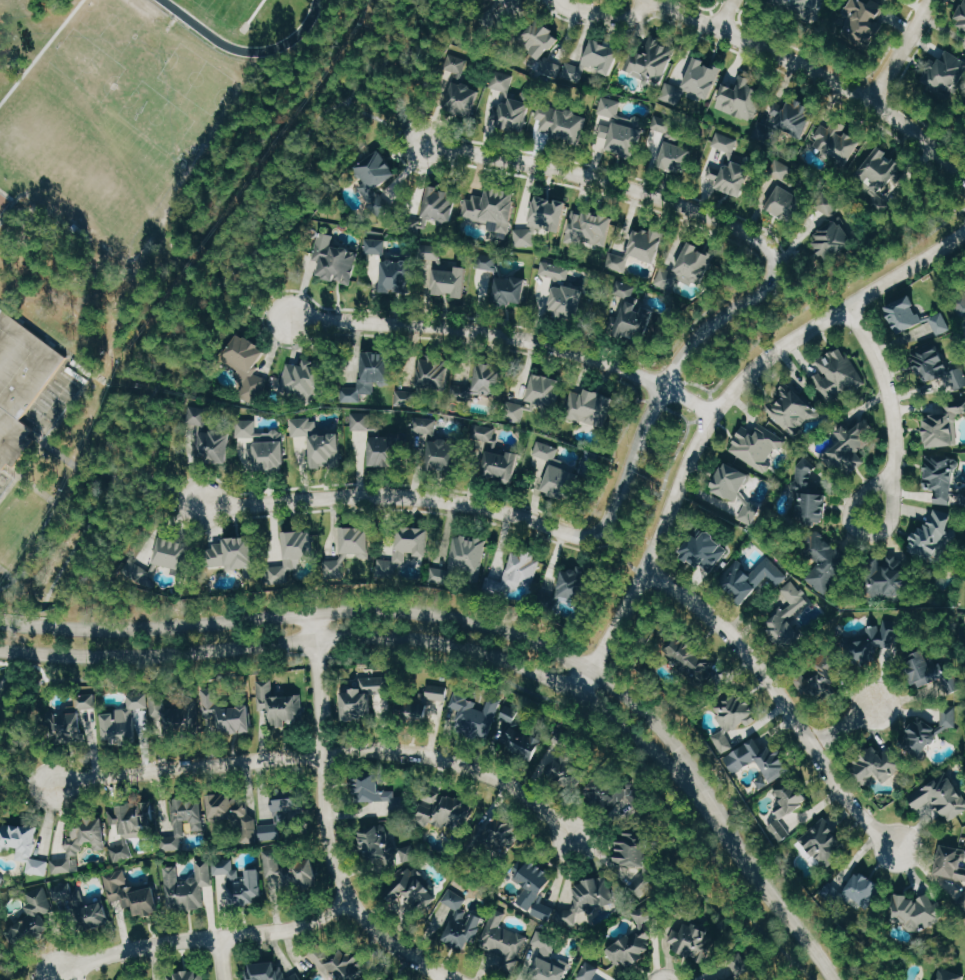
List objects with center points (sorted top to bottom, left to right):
building: (517, 3)
park: (221, 7)
road: (703, 7)
building: (801, 7)
road: (740, 9)
road: (604, 13)
road: (724, 15)
building: (489, 16)
road: (721, 18)
building: (961, 18)
building: (863, 22)
track: (201, 27)
building: (539, 40)
road: (916, 47)
road: (902, 49)
building: (652, 57)
building: (593, 61)
road: (764, 64)
road: (842, 67)
building: (943, 72)
road: (821, 76)
building: (693, 82)
road: (874, 87)
building: (459, 89)
building: (739, 98)
building: (510, 102)
road: (385, 123)
building: (560, 123)
building: (785, 123)
road: (928, 127)
building: (619, 129)
building: (835, 144)
building: (670, 148)
building: (729, 168)
building: (878, 176)
building: (376, 178)
road: (608, 182)
building: (785, 191)
park: (3, 202)
building: (490, 206)
building: (430, 209)
building: (542, 224)
building: (589, 225)
building: (831, 230)
building: (639, 247)
road: (903, 250)
building: (333, 260)
building: (392, 266)
building: (685, 269)
building: (442, 271)
building: (501, 280)
building: (561, 291)
road: (208, 293)
road: (267, 299)
building: (960, 305)
road: (252, 306)
building: (913, 316)
road: (716, 320)
building: (632, 321)
road: (508, 336)
road: (745, 352)
building: (245, 366)
building: (935, 366)
building: (371, 373)
building: (836, 373)
building: (426, 377)
building: (305, 378)
building: (483, 380)
building: (20, 381)
road: (888, 395)
building: (535, 396)
building: (588, 405)
road: (700, 405)
building: (790, 408)
road: (716, 410)
building: (942, 422)
building: (210, 437)
building: (377, 441)
building: (263, 444)
building: (318, 444)
building: (436, 444)
building: (754, 445)
building: (849, 447)
building: (497, 457)
building: (558, 473)
road: (666, 474)
building: (941, 478)
road: (164, 485)
building: (733, 487)
building: (807, 489)
road: (484, 511)
road: (895, 511)
road: (52, 514)
building: (933, 537)
building: (348, 548)
building: (401, 549)
building: (702, 549)
building: (233, 552)
building: (291, 552)
building: (160, 557)
building: (461, 559)
building: (825, 559)
building: (513, 572)
building: (886, 577)
building: (749, 578)
building: (567, 587)
road: (386, 612)
building: (784, 618)
road: (375, 638)
building: (869, 642)
road: (314, 654)
building: (692, 659)
building: (928, 670)
road: (118, 676)
road: (1, 680)
building: (820, 681)
building: (369, 698)
road: (778, 702)
building: (427, 703)
building: (278, 704)
building: (228, 713)
building: (729, 714)
building: (130, 718)
building: (78, 721)
building: (494, 723)
road: (846, 726)
building: (926, 731)
road: (618, 742)
road: (327, 751)
building: (758, 761)
building: (874, 764)
building: (570, 771)
road: (28, 778)
building: (615, 790)
building: (941, 796)
building: (290, 801)
building: (785, 803)
building: (449, 813)
building: (235, 814)
building: (131, 826)
road: (326, 827)
building: (273, 831)
building: (502, 834)
building: (81, 843)
building: (825, 843)
building: (25, 845)
building: (386, 846)
building: (634, 847)
building: (950, 862)
building: (289, 871)
building: (242, 883)
building: (188, 886)
road: (770, 887)
building: (414, 889)
building: (538, 889)
building: (851, 890)
building: (596, 893)
building: (132, 894)
building: (961, 901)
building: (914, 908)
building: (85, 913)
building: (644, 914)
building: (464, 921)
road: (203, 938)
building: (504, 939)
building: (694, 940)
building: (630, 949)
road: (221, 958)
building: (550, 960)
building: (342, 964)
road: (781, 969)
building: (271, 972)
building: (948, 974)
building: (191, 975)
road: (49, 977)
building: (378, 978)
road: (446, 978)
building: (719, 979)

